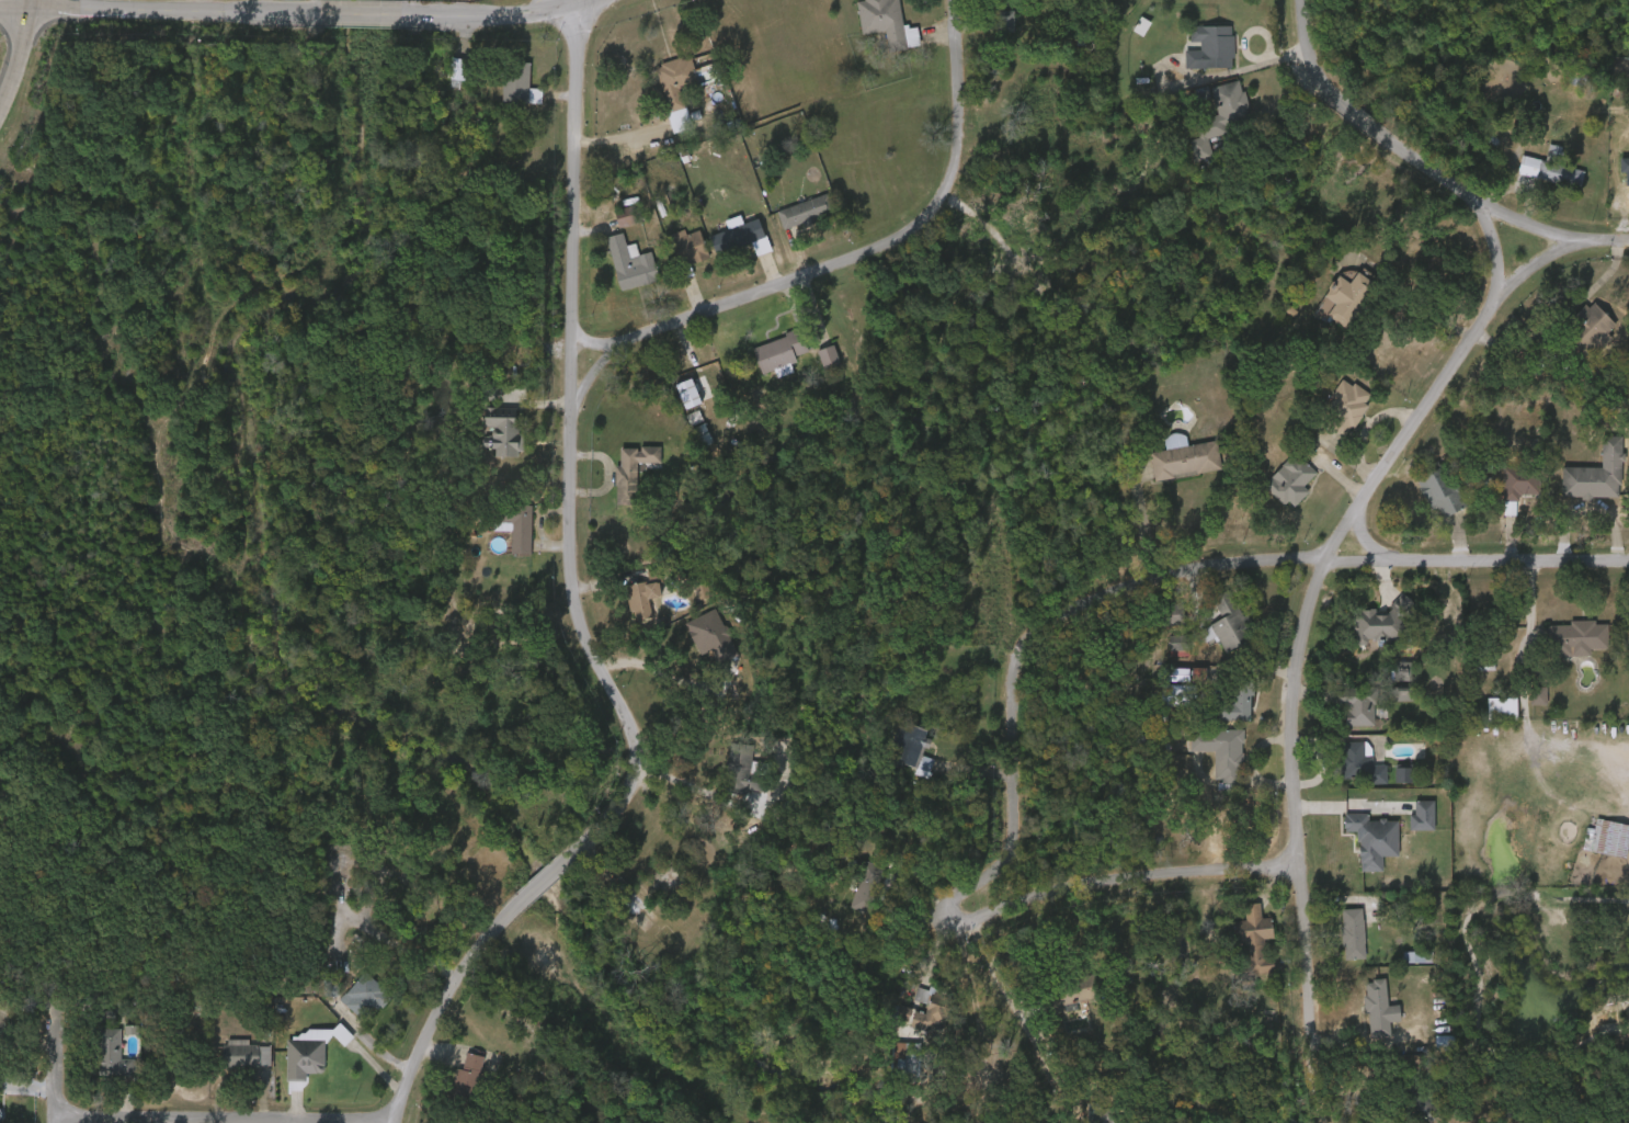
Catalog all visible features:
road: (570, 4)
road: (584, 4)
road: (152, 10)
road: (326, 14)
road: (367, 15)
road: (479, 18)
building: (884, 21)
building: (989, 32)
building: (1210, 46)
road: (16, 49)
building: (441, 79)
building: (519, 82)
building: (681, 83)
building: (503, 95)
building: (1622, 97)
building: (660, 100)
building: (1219, 114)
road: (1402, 150)
building: (1551, 169)
road: (568, 178)
building: (1534, 182)
building: (804, 211)
building: (625, 215)
building: (788, 223)
building: (610, 227)
building: (740, 237)
road: (1602, 241)
building: (687, 246)
building: (725, 247)
road: (1488, 253)
road: (853, 256)
building: (672, 258)
building: (630, 263)
building: (615, 274)
building: (1349, 290)
building: (1329, 308)
building: (1590, 322)
road: (1421, 332)
building: (1574, 339)
building: (781, 350)
building: (828, 356)
building: (764, 364)
building: (812, 368)
building: (673, 404)
building: (1345, 405)
building: (501, 429)
building: (487, 441)
building: (1185, 458)
building: (633, 467)
building: (1596, 472)
building: (1291, 479)
building: (616, 481)
building: (1520, 481)
building: (1580, 485)
building: (1440, 490)
building: (1274, 491)
building: (1500, 497)
building: (1423, 502)
building: (1625, 508)
building: (512, 517)
building: (499, 535)
road: (1359, 538)
road: (1170, 575)
road: (1305, 592)
building: (642, 597)
building: (627, 609)
building: (1382, 622)
building: (1227, 628)
building: (1577, 636)
building: (1209, 638)
building: (695, 646)
building: (1559, 648)
building: (1160, 656)
building: (1387, 681)
building: (1239, 688)
building: (1358, 702)
building: (1162, 704)
building: (1385, 704)
building: (1522, 705)
building: (1501, 707)
building: (1220, 714)
building: (1485, 717)
building: (1340, 719)
building: (913, 747)
building: (1221, 749)
building: (895, 753)
building: (1205, 761)
building: (1360, 762)
building: (741, 765)
road: (624, 768)
building: (1404, 772)
building: (1344, 774)
building: (909, 776)
building: (1387, 784)
building: (727, 786)
building: (1423, 814)
building: (1406, 826)
building: (1372, 838)
building: (1608, 838)
building: (1592, 848)
building: (1357, 850)
road: (1116, 881)
building: (847, 905)
building: (1353, 932)
building: (1255, 939)
building: (1336, 943)
building: (1239, 950)
building: (1401, 967)
building: (1076, 987)
building: (368, 995)
building: (934, 1001)
building: (349, 1007)
building: (1379, 1008)
building: (1363, 1019)
building: (909, 1024)
road: (1028, 1033)
building: (1444, 1041)
building: (113, 1052)
building: (250, 1054)
building: (307, 1055)
building: (96, 1064)
building: (229, 1064)
road: (46, 1066)
building: (288, 1068)
building: (470, 1074)
road: (1318, 1081)
building: (451, 1088)
building: (1427, 1093)
building: (1408, 1113)
building: (1102, 1114)
road: (216, 1121)

